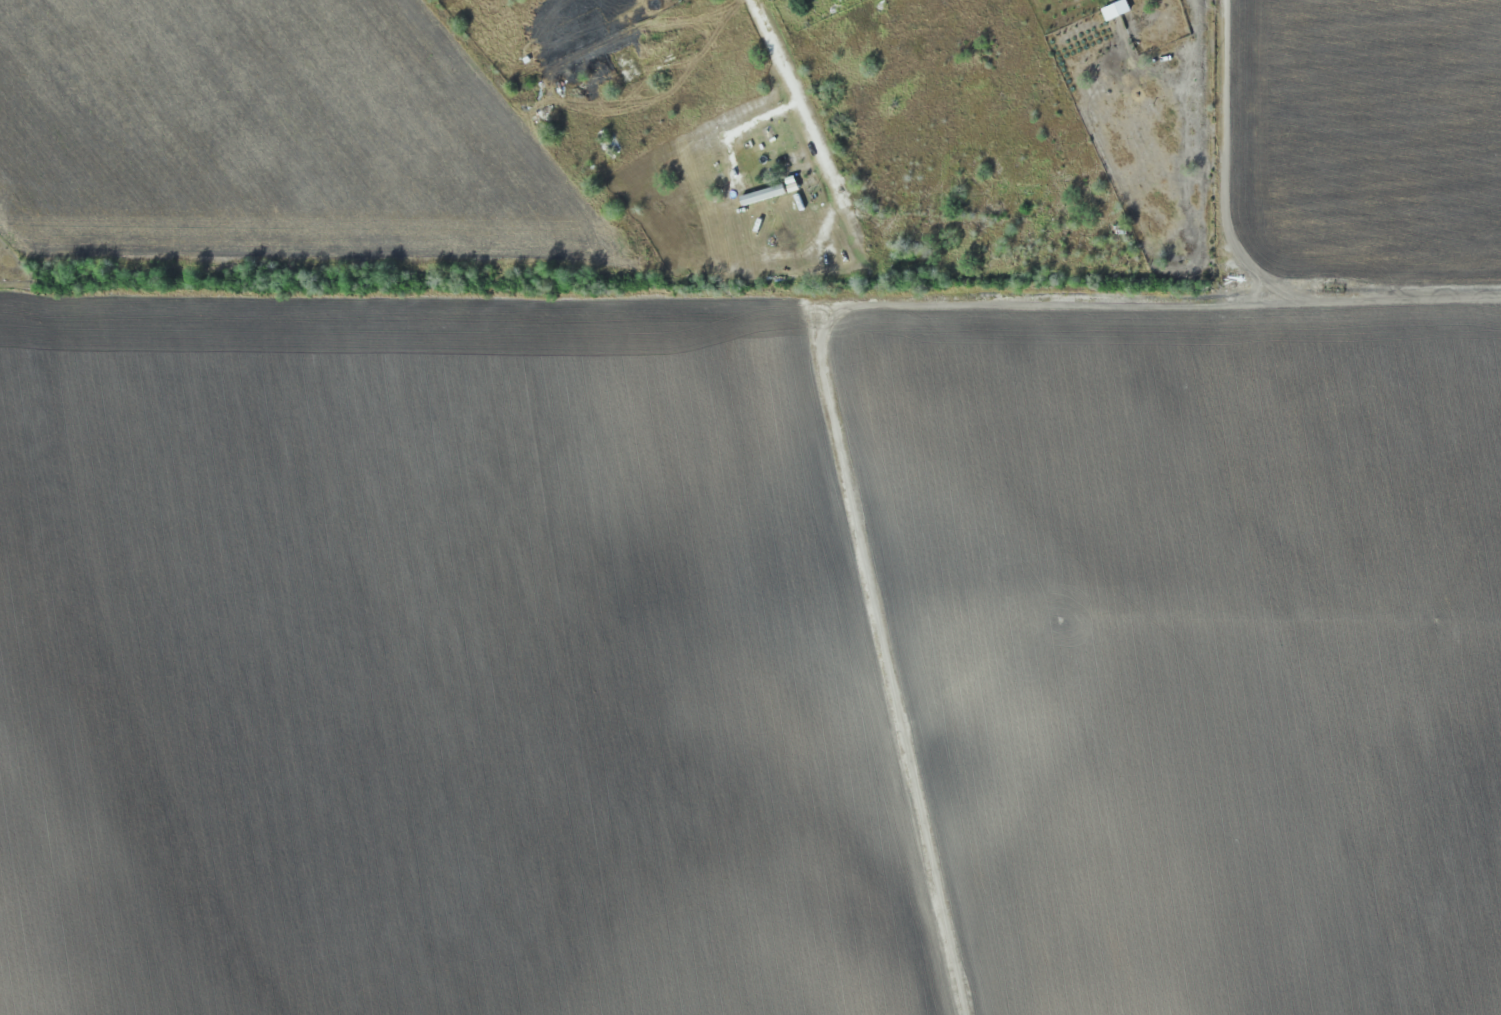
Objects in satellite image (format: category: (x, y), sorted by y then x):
road: (790, 81)
road: (1165, 304)

